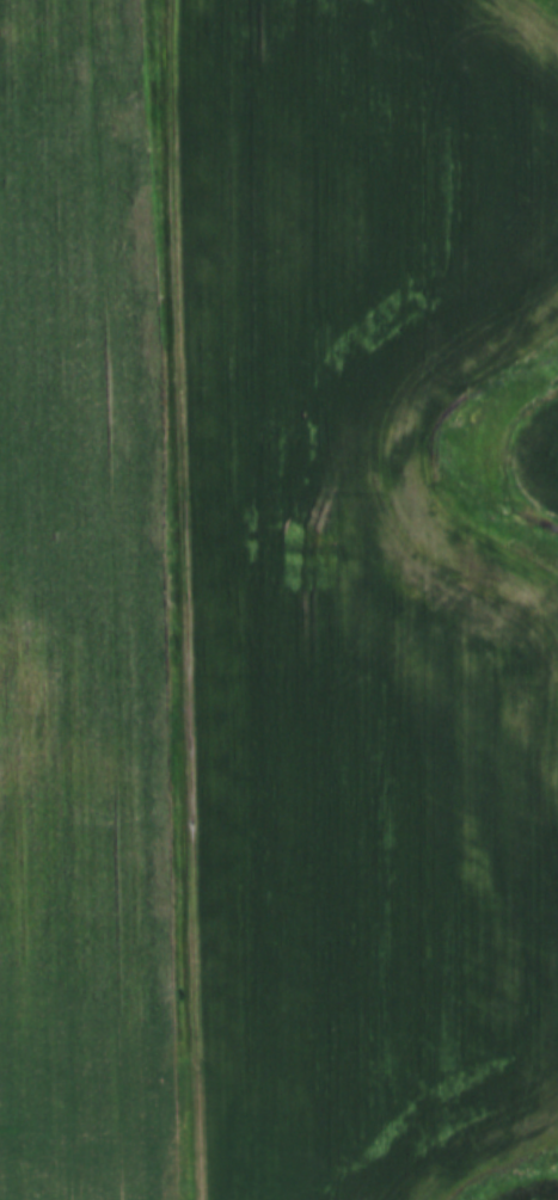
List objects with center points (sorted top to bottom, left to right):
road: (178, 599)

